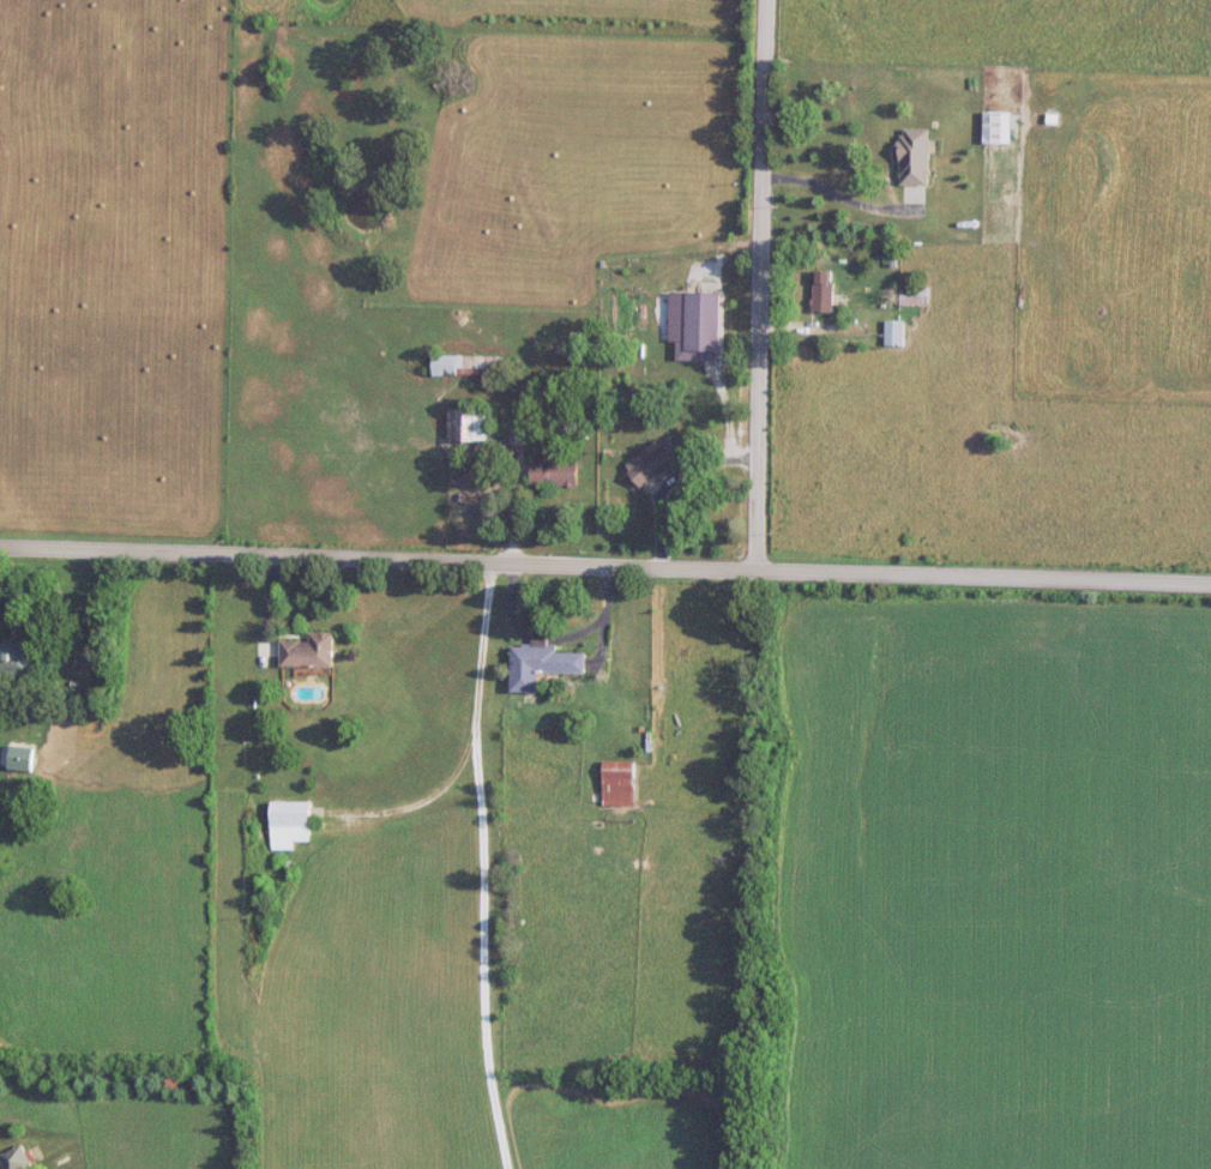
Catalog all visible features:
building: (878, 122)
building: (833, 126)
building: (994, 127)
building: (915, 156)
road: (843, 197)
road: (773, 282)
building: (825, 291)
building: (914, 297)
building: (703, 329)
building: (896, 333)
building: (464, 363)
building: (471, 426)
building: (656, 462)
building: (556, 470)
road: (385, 553)
road: (990, 572)
building: (309, 652)
building: (17, 659)
building: (543, 663)
building: (620, 783)
building: (30, 788)
building: (290, 824)
road: (481, 862)
building: (18, 1159)

